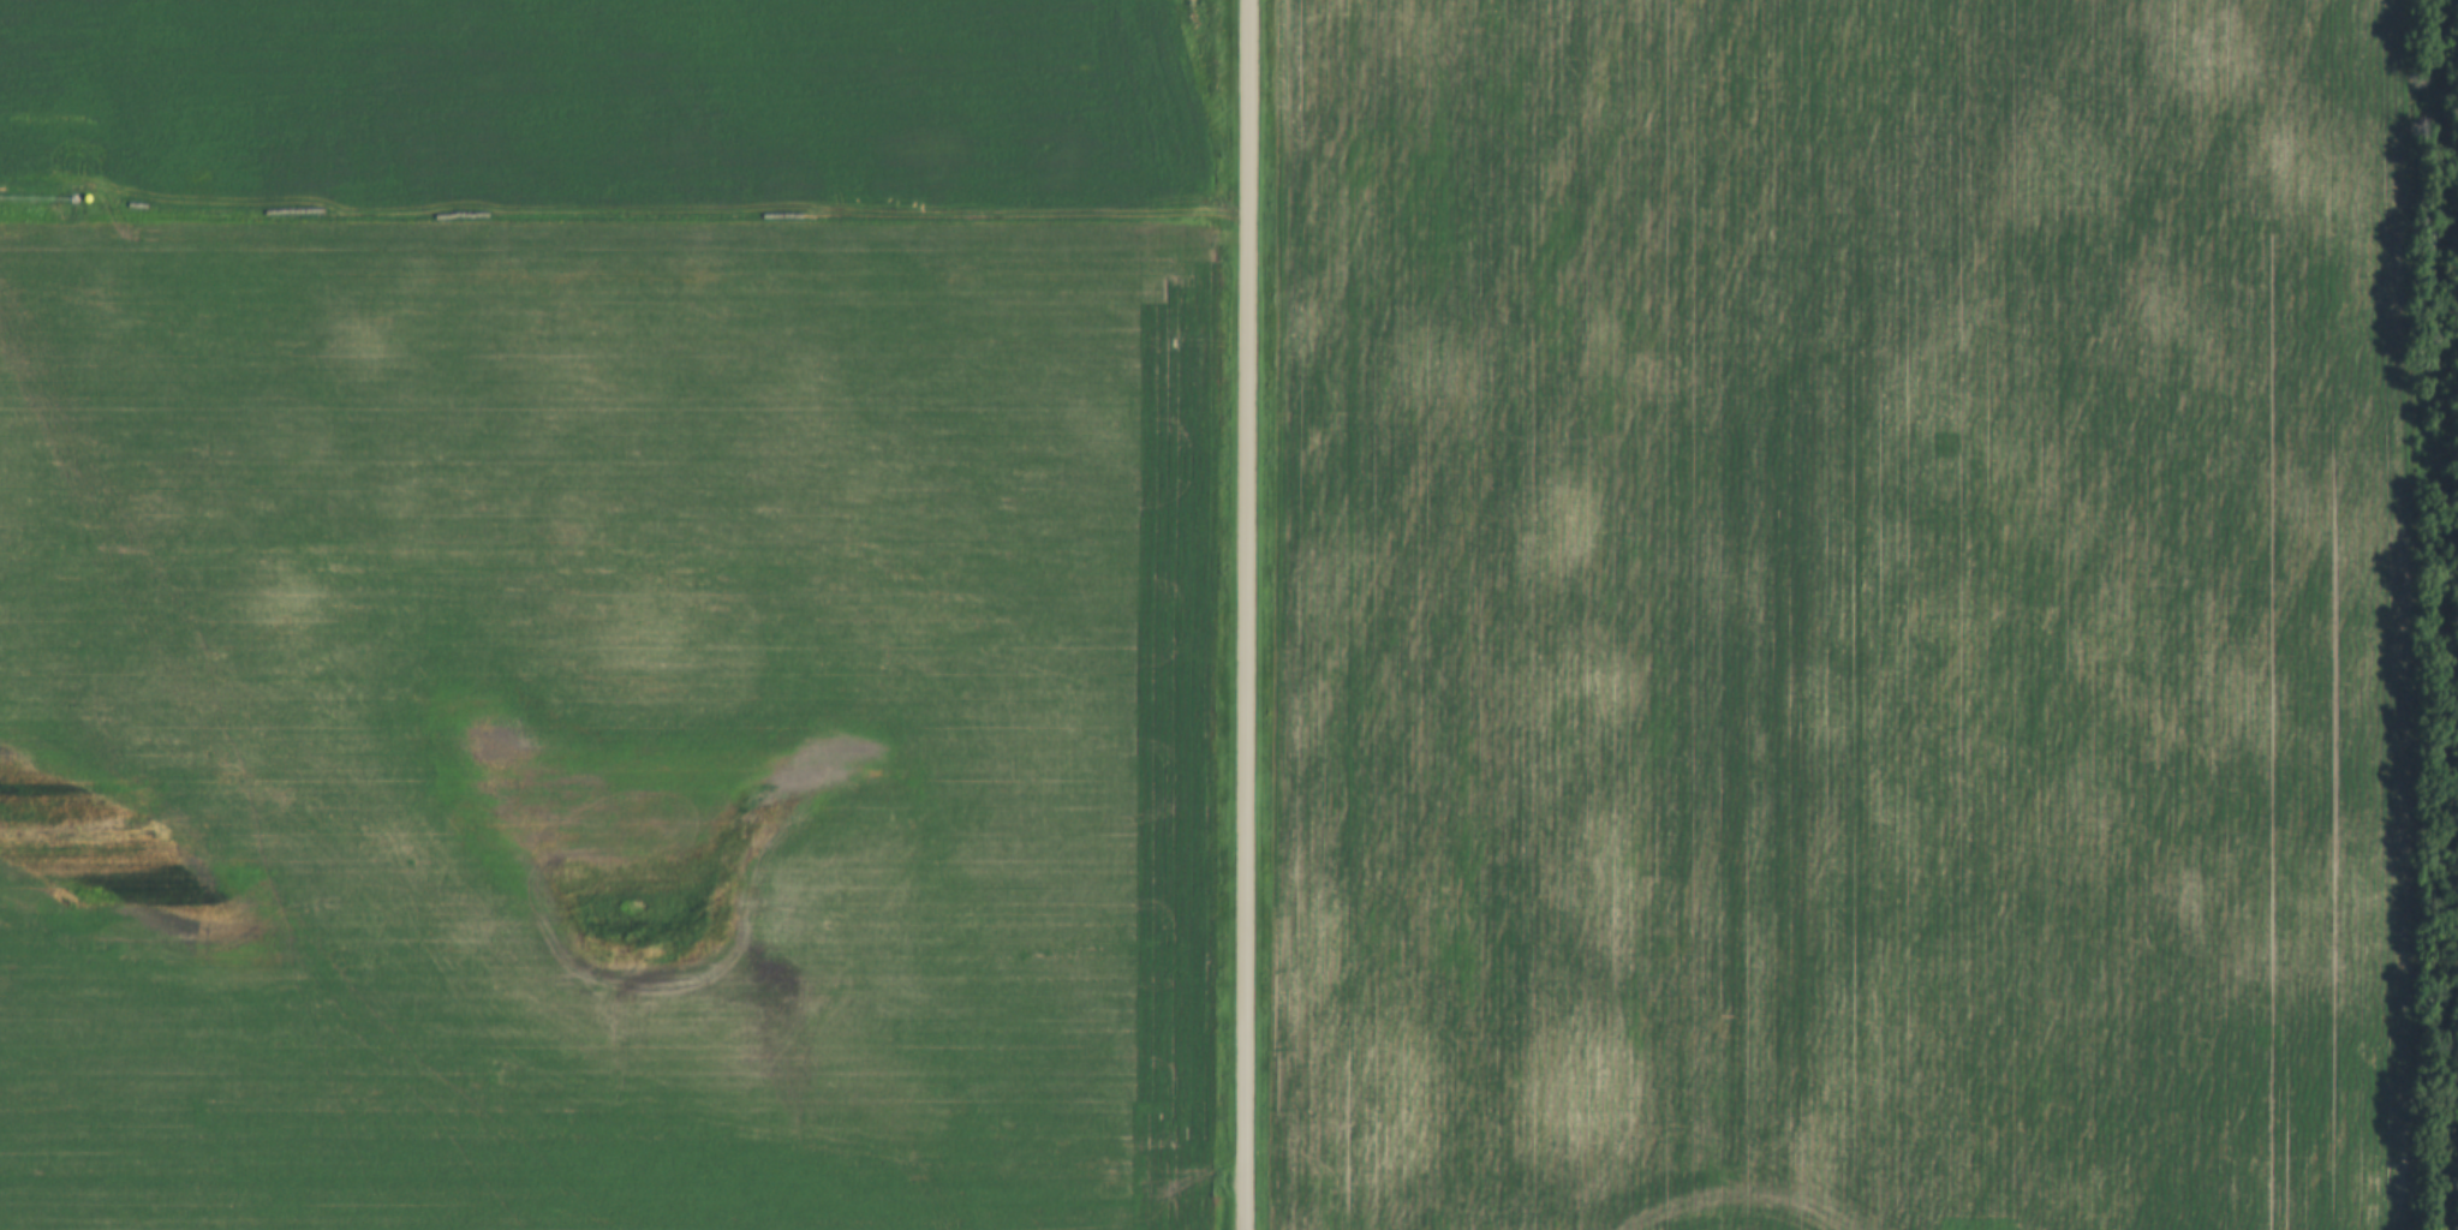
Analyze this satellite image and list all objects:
road: (1247, 614)
road: (2452, 615)

